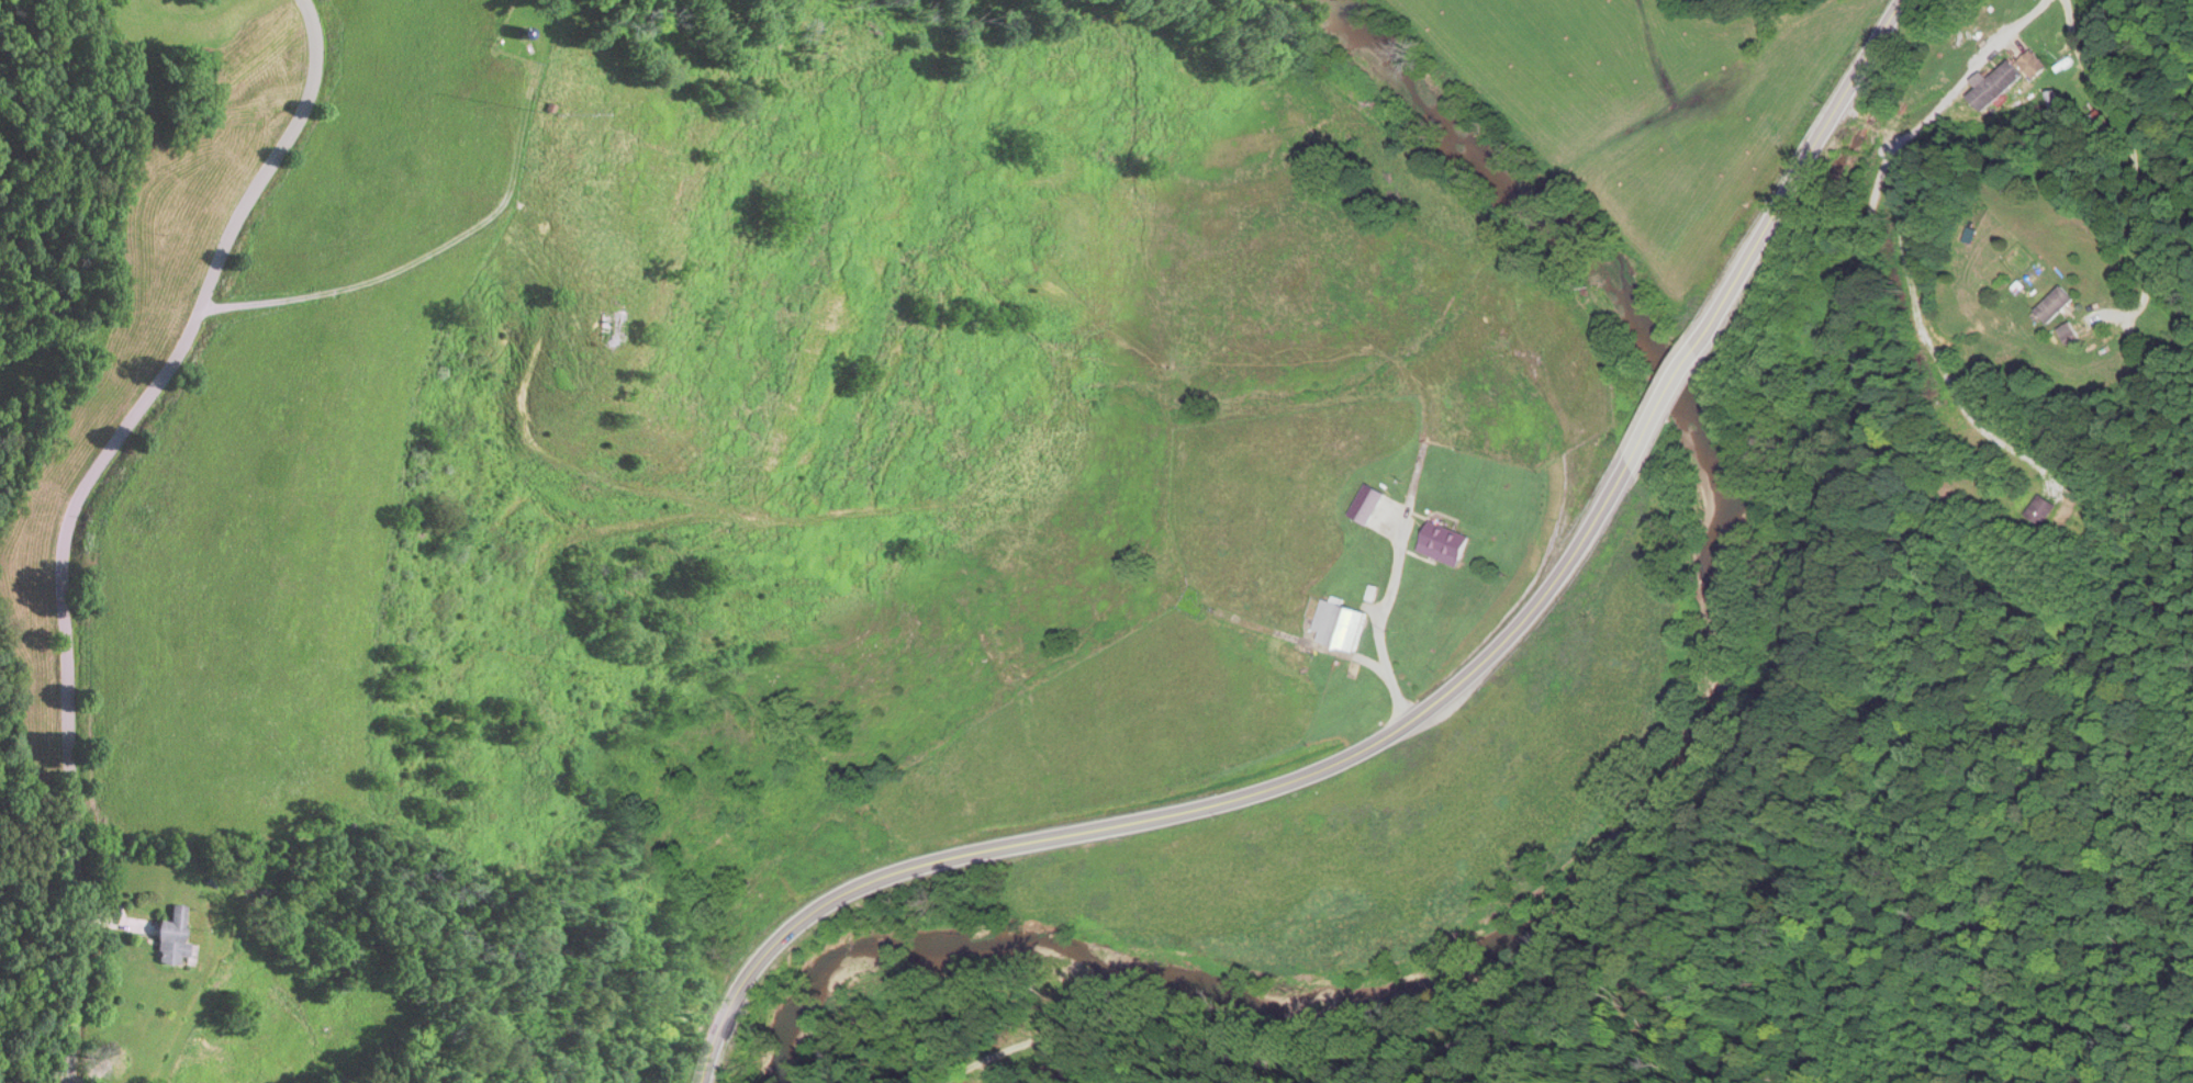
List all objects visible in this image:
building: (2018, 77)
road: (1972, 120)
road: (1801, 167)
road: (1976, 292)
building: (2057, 306)
building: (608, 328)
road: (1664, 403)
road: (72, 507)
building: (2043, 512)
building: (1447, 545)
building: (1344, 627)
road: (1742, 743)
road: (1178, 814)
river: (1626, 826)
building: (175, 939)

